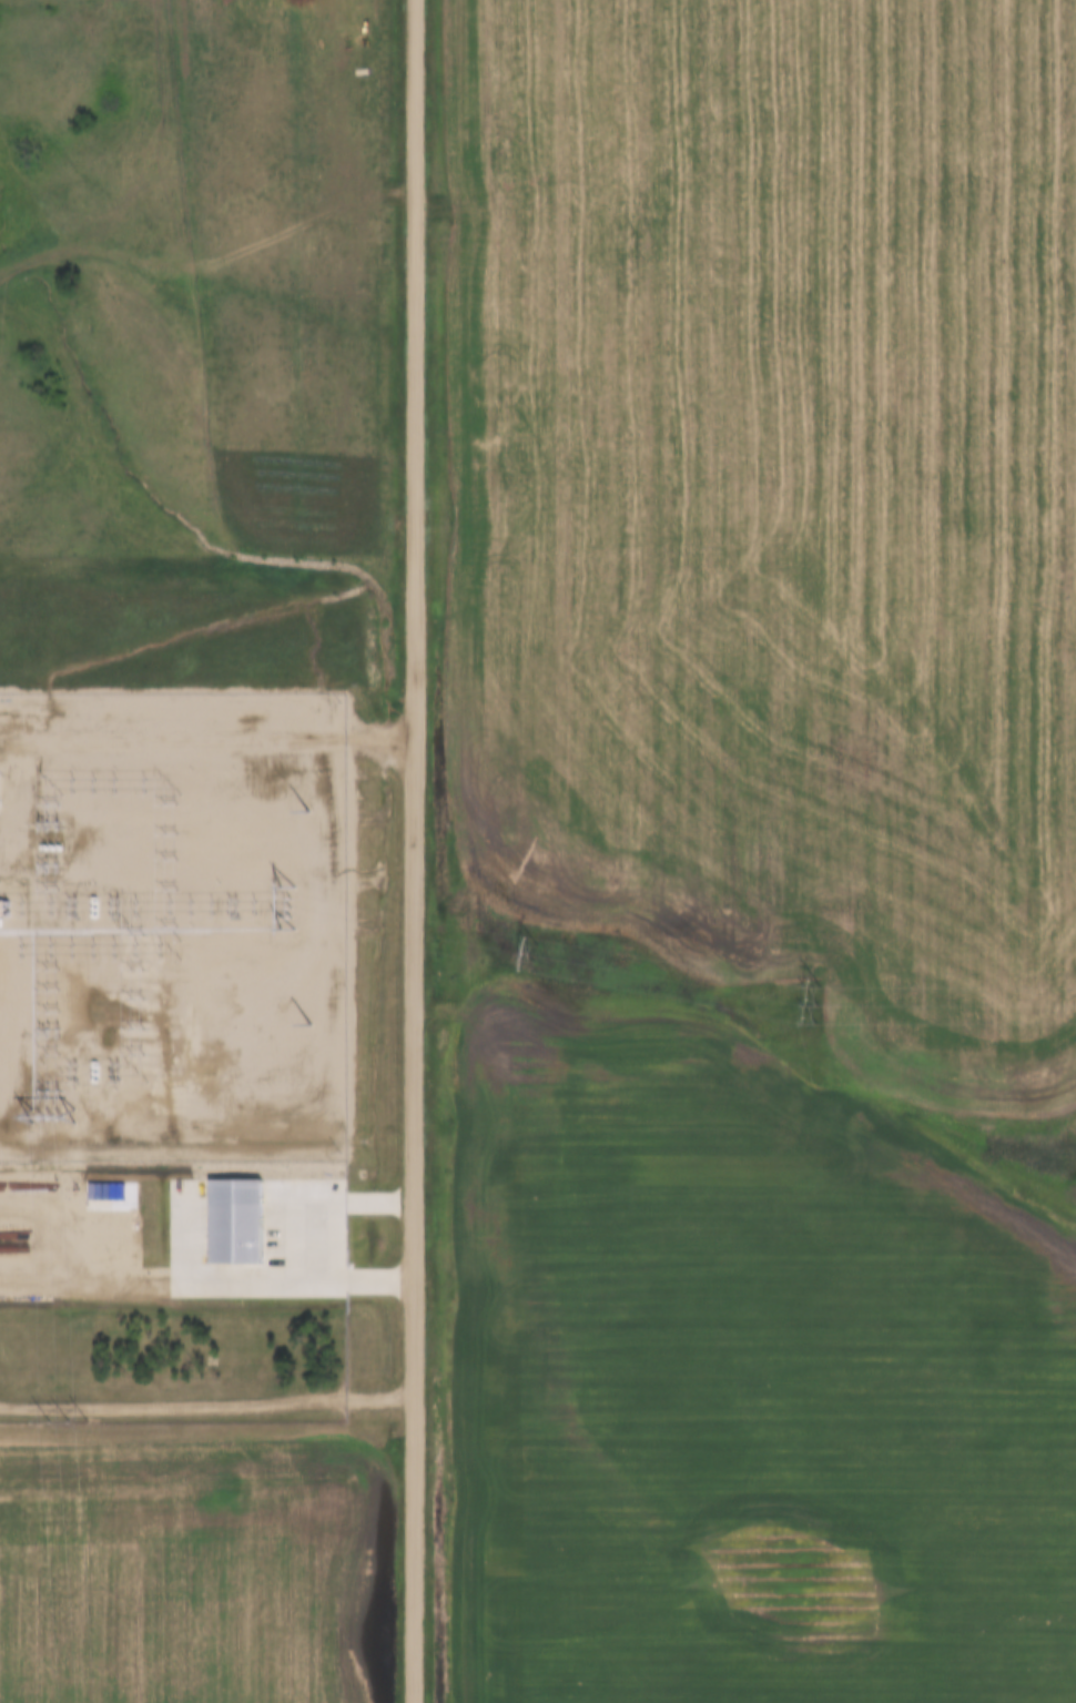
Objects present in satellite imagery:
road: (210, 263)
road: (206, 739)
road: (413, 851)
power substation: (172, 926)
power tower: (538, 954)
power tower: (821, 1003)
building: (253, 1209)
road: (59, 1225)
road: (276, 1239)
road: (139, 1284)
road: (206, 1407)
power tower: (70, 1423)

